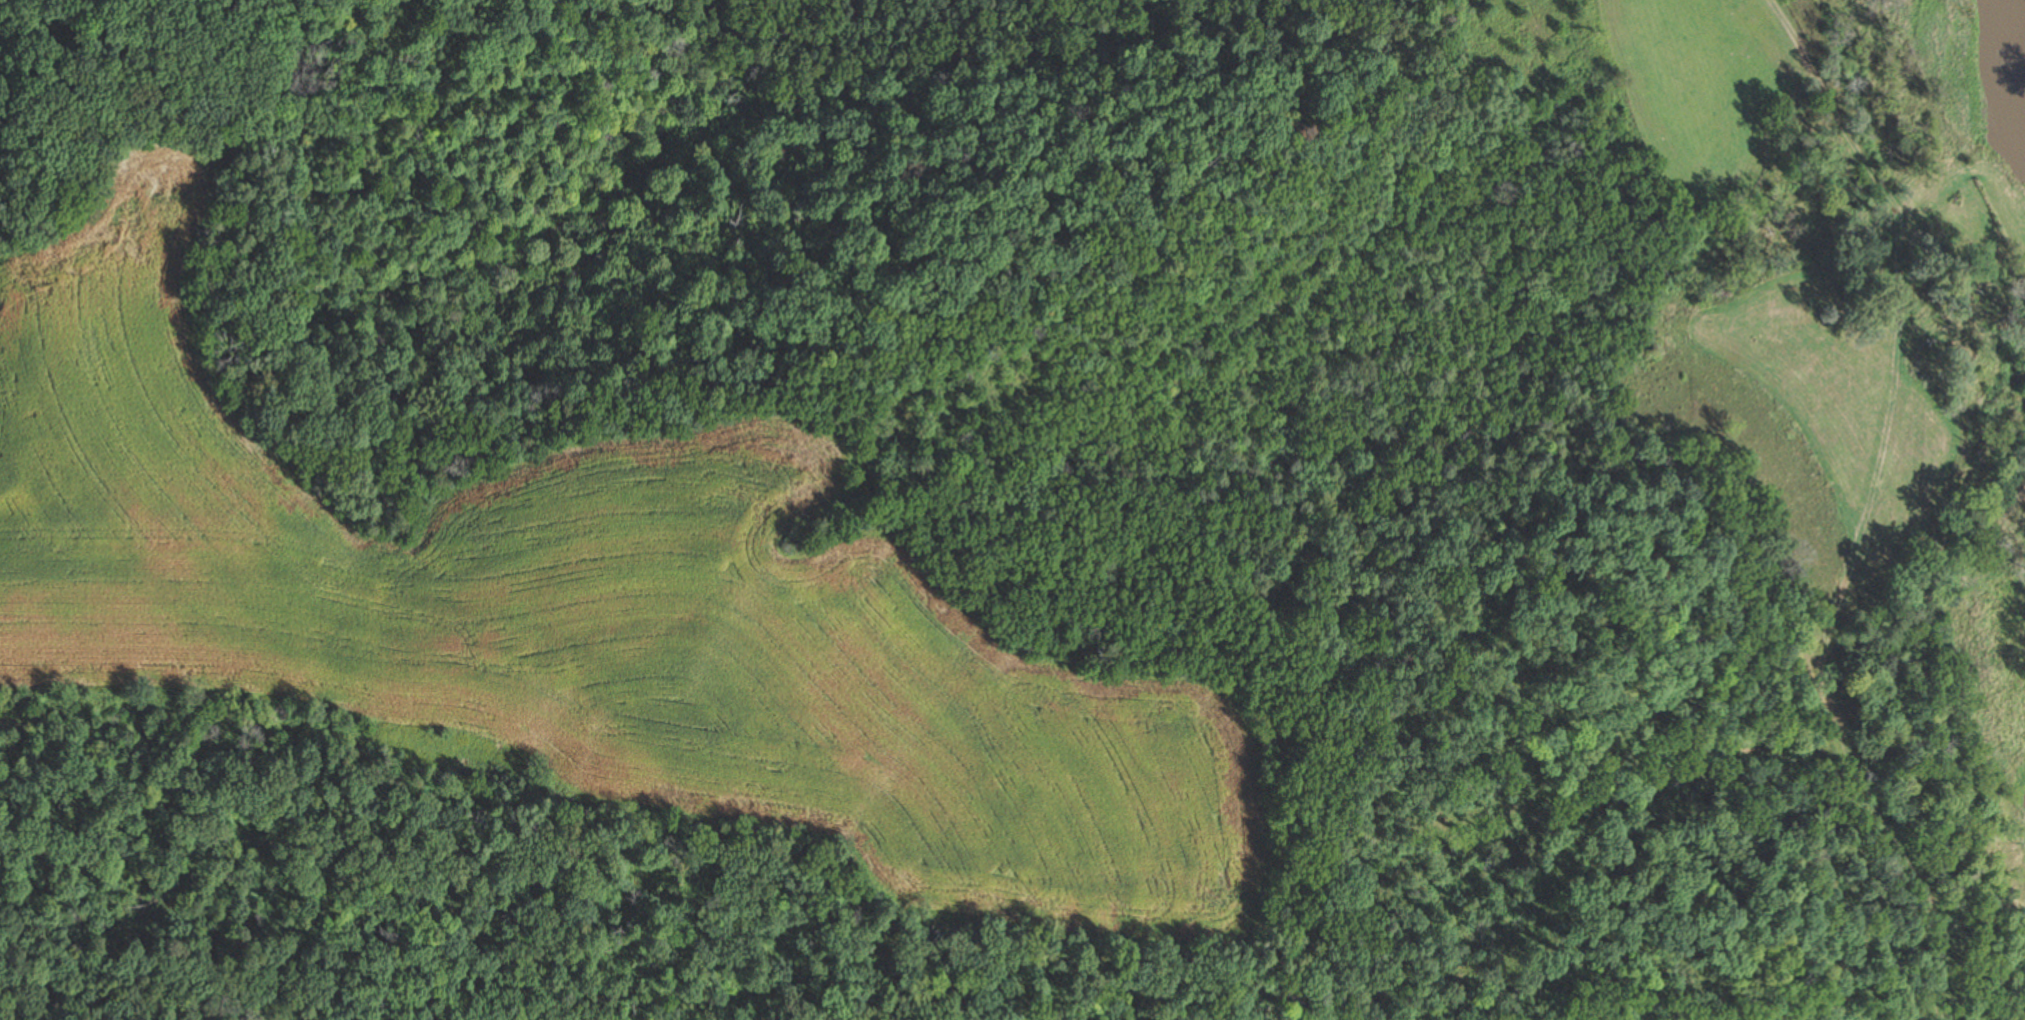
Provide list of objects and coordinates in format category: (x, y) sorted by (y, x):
river: (1997, 78)

